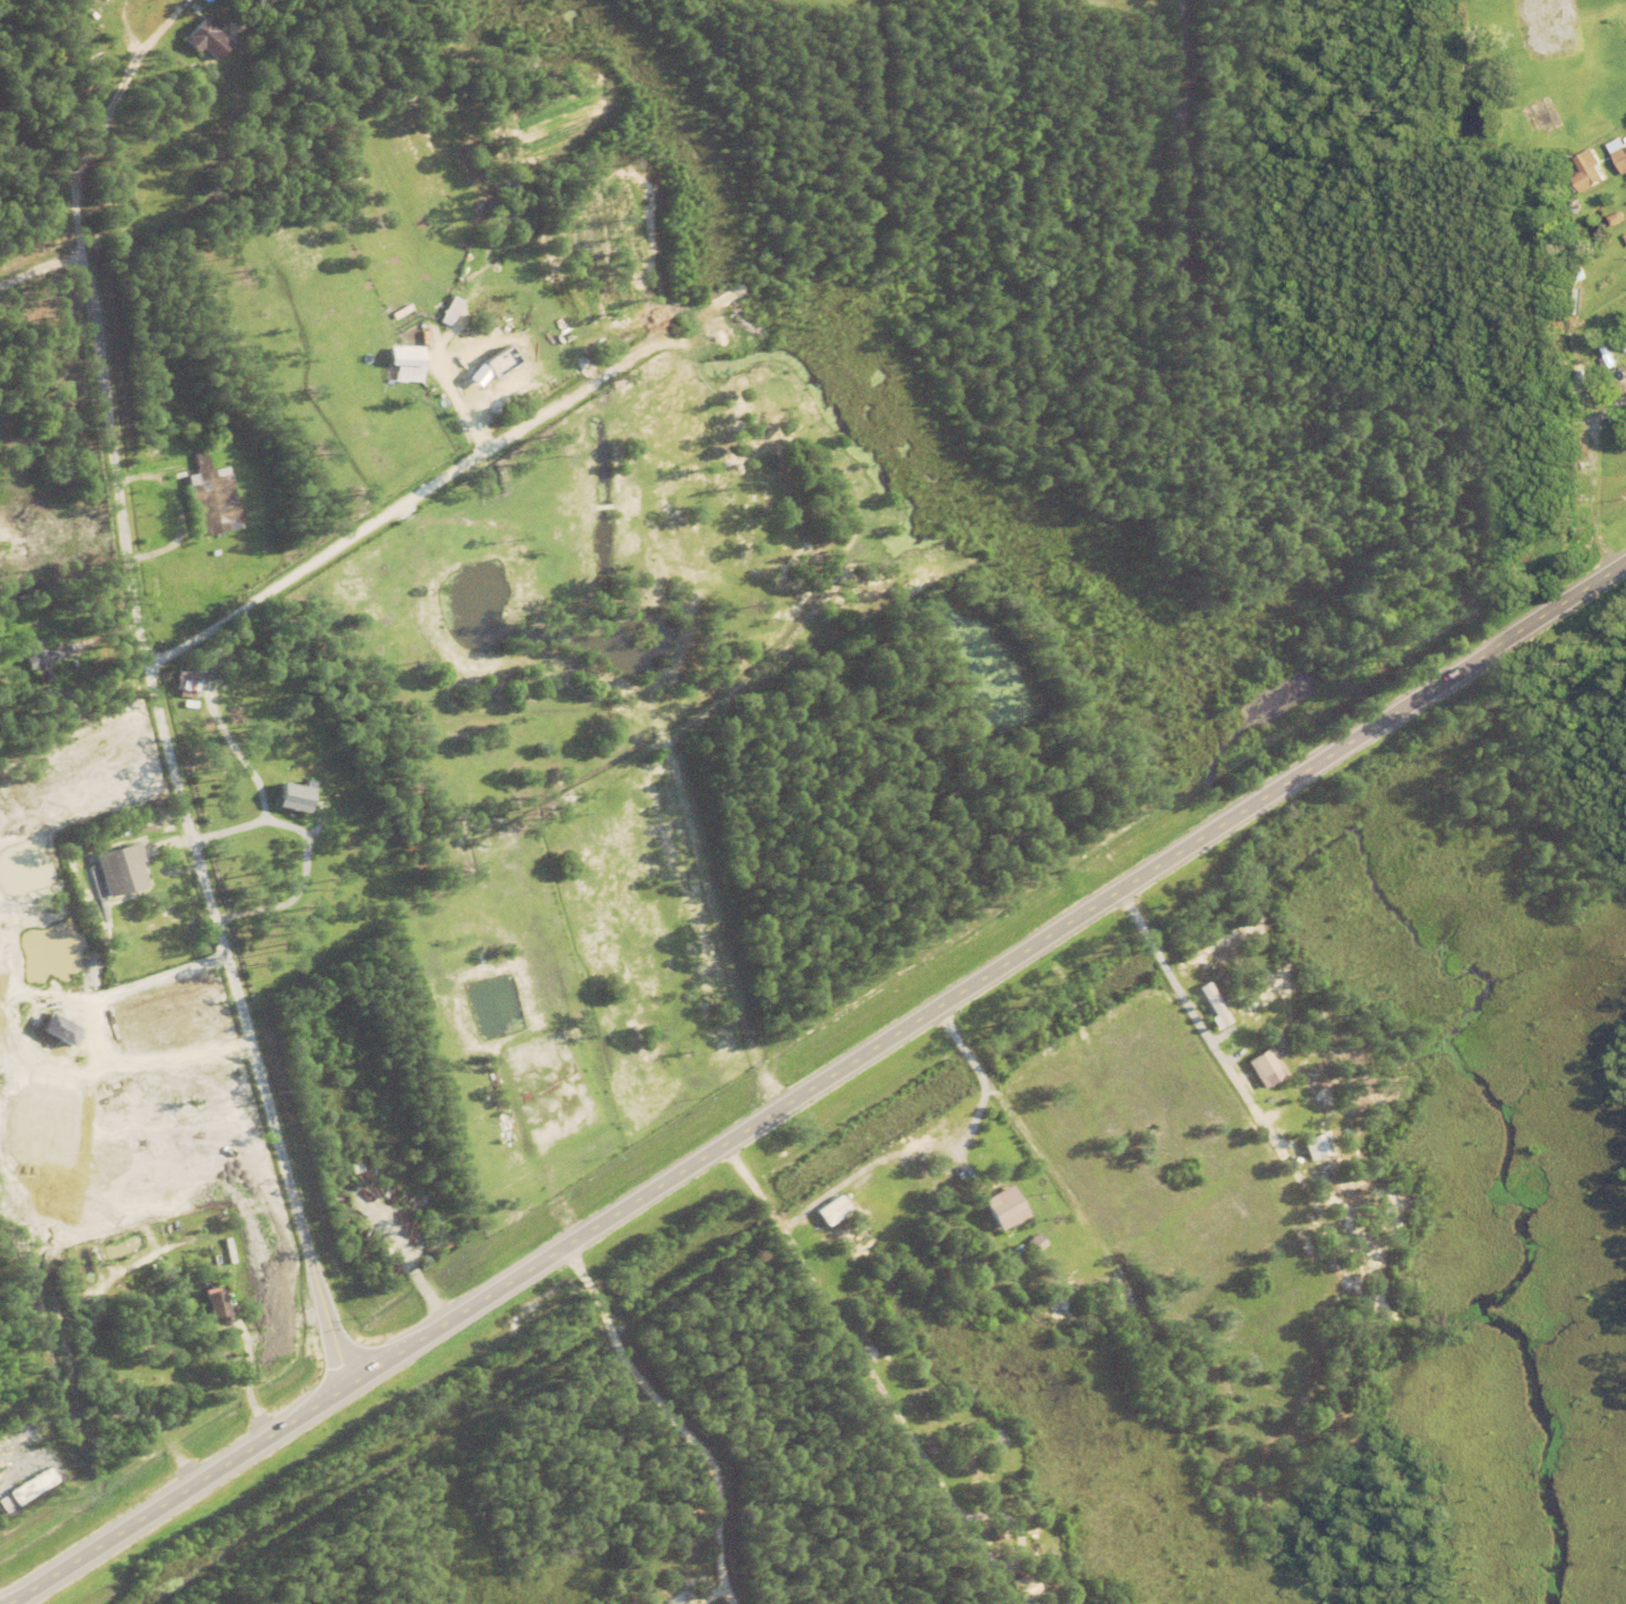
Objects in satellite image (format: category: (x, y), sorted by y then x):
building: (207, 40)
building: (1537, 115)
building: (1611, 140)
building: (1622, 160)
building: (1588, 172)
building: (1577, 206)
building: (1617, 218)
building: (1585, 272)
building: (451, 311)
road: (21, 319)
building: (407, 363)
road: (1599, 486)
building: (1580, 494)
building: (210, 503)
building: (186, 512)
building: (218, 552)
road: (1622, 586)
building: (70, 636)
building: (38, 661)
building: (187, 685)
building: (70, 702)
building: (12, 716)
building: (73, 718)
building: (251, 731)
building: (292, 801)
road: (396, 807)
road: (192, 853)
building: (154, 867)
building: (121, 872)
building: (1213, 1006)
building: (59, 1033)
building: (1261, 1066)
road: (818, 1088)
building: (1315, 1149)
building: (996, 1158)
building: (980, 1182)
building: (960, 1186)
building: (949, 1198)
building: (1006, 1206)
building: (1047, 1211)
building: (832, 1214)
building: (234, 1241)
building: (1030, 1245)
road: (969, 1277)
building: (1079, 1286)
building: (180, 1292)
building: (215, 1309)
building: (200, 1323)
road: (1, 1353)
road: (671, 1418)
building: (33, 1490)
building: (3, 1508)
building: (1024, 1591)

